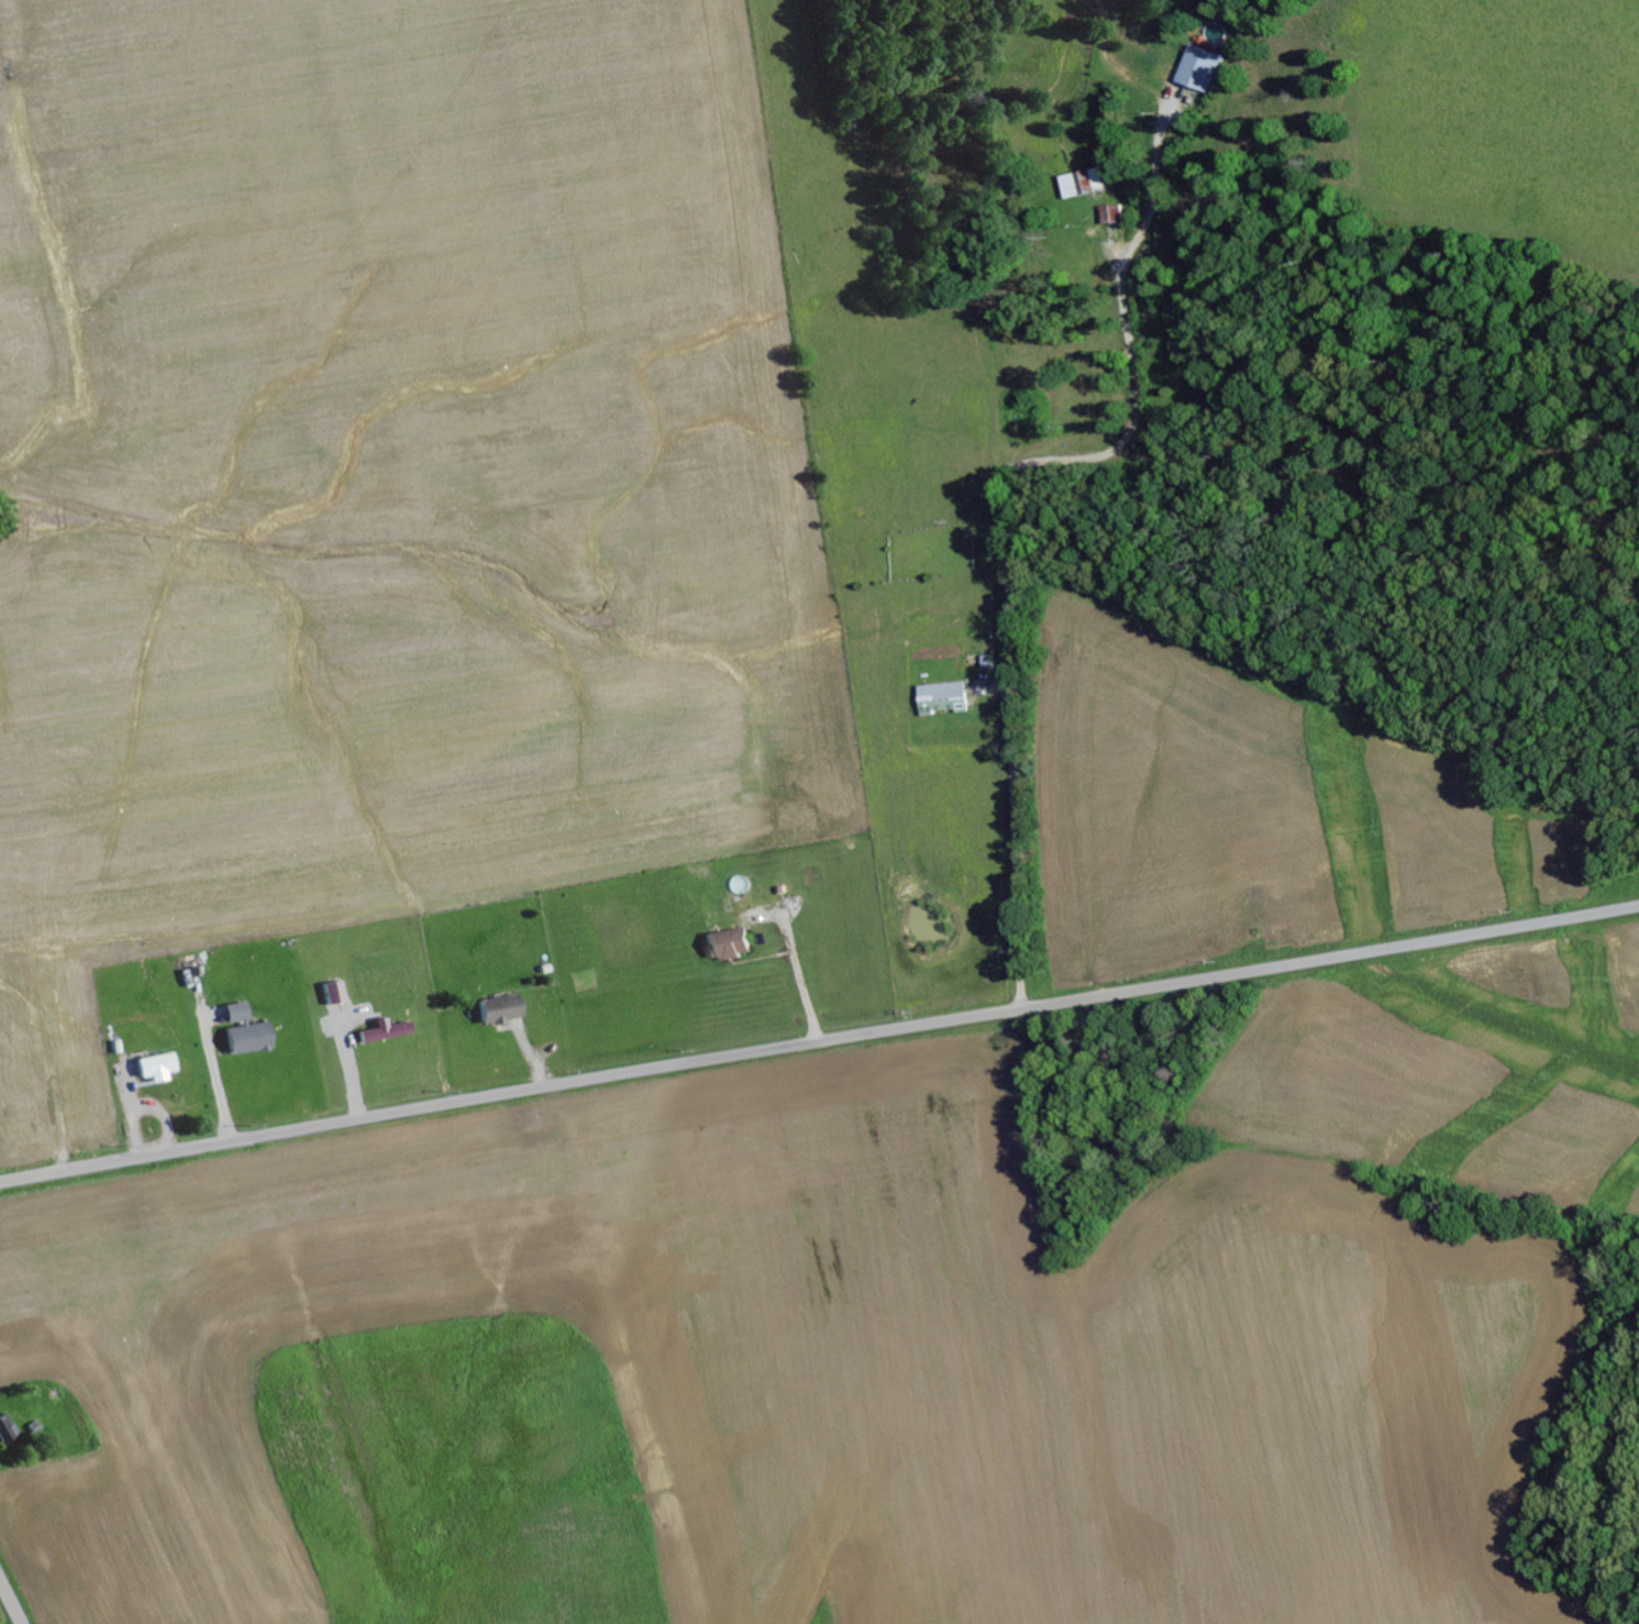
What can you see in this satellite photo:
building: (1196, 68)
building: (1079, 184)
building: (1107, 213)
building: (940, 697)
building: (724, 944)
building: (339, 994)
building: (494, 1010)
building: (251, 1032)
building: (388, 1032)
road: (818, 1039)
building: (163, 1068)
building: (9, 1432)
road: (12, 1600)

